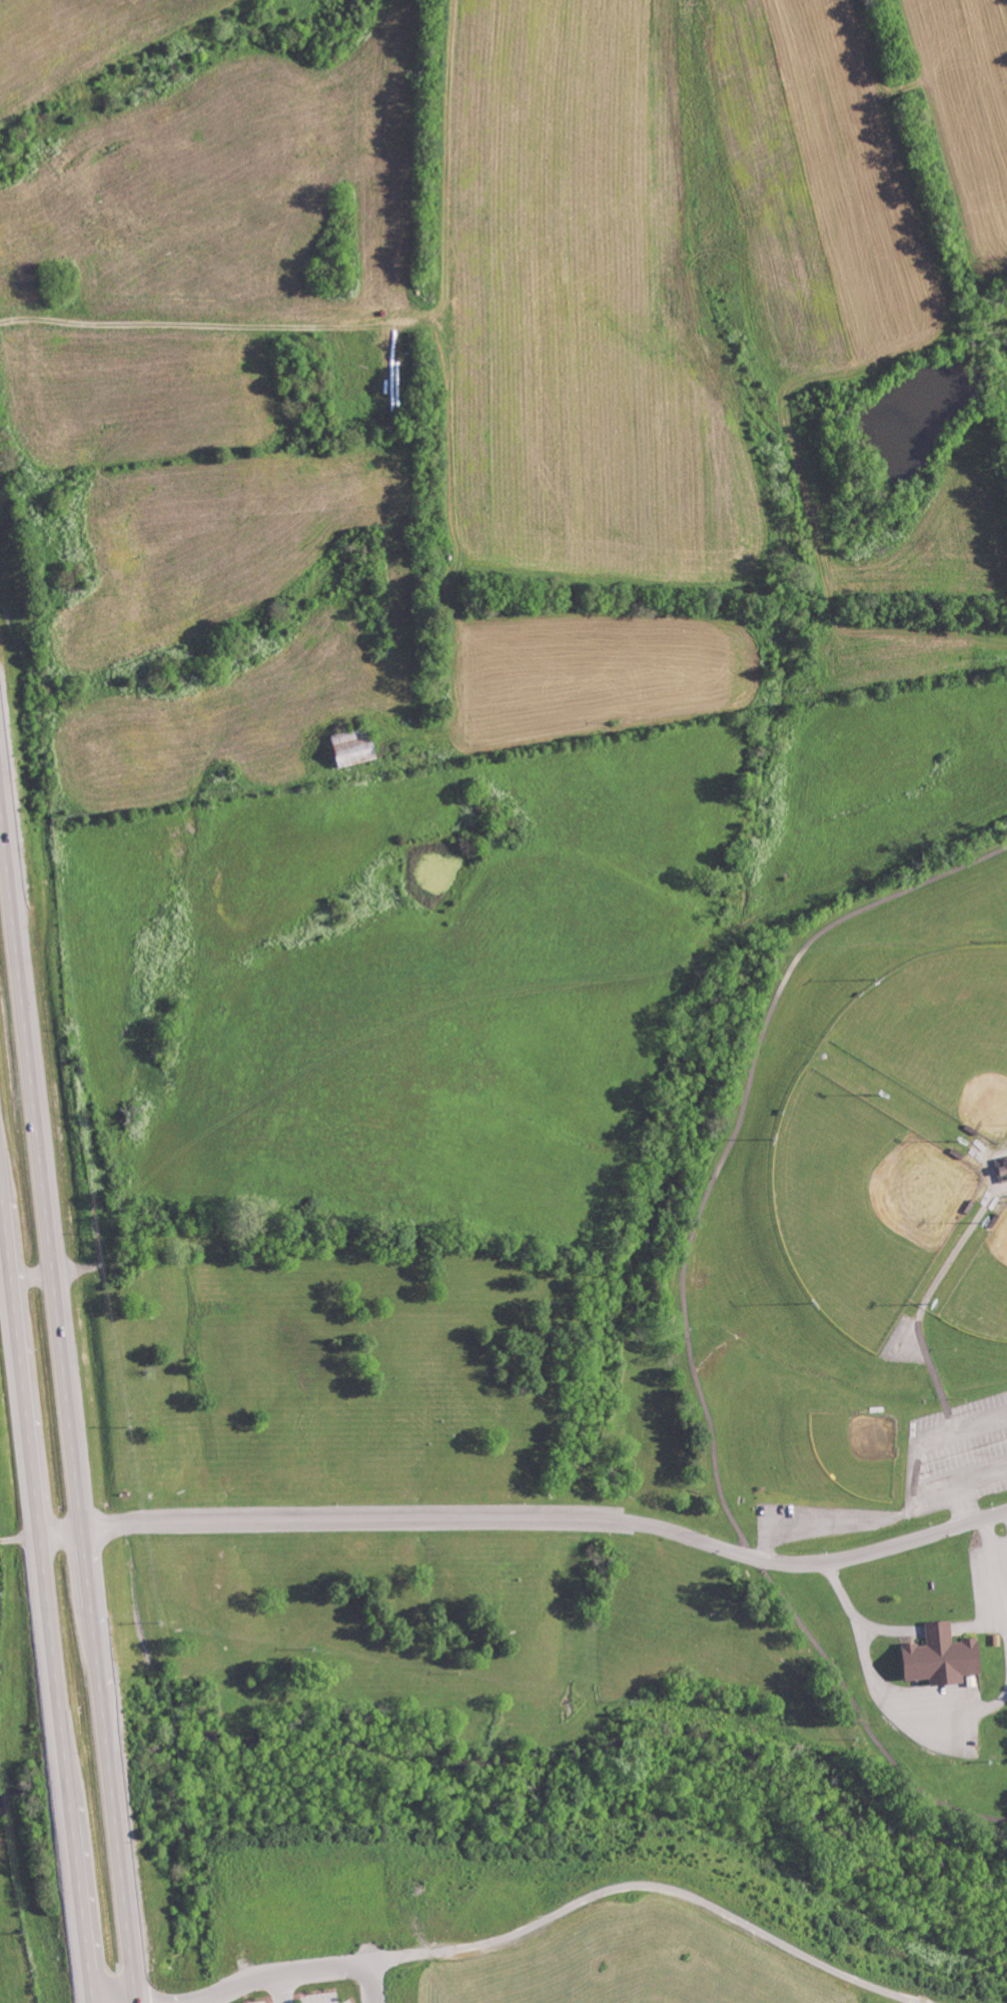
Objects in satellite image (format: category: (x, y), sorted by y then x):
building: (356, 746)
building: (1002, 1170)
park: (982, 1286)
road: (686, 1322)
park: (629, 1409)
road: (69, 1413)
road: (919, 1447)
road: (963, 1482)
road: (530, 1516)
road: (20, 1538)
road: (994, 1569)
parking lot: (990, 1581)
road: (47, 1593)
road: (858, 1618)
road: (977, 1624)
road: (935, 1629)
building: (935, 1631)
building: (936, 1661)
road: (279, 1972)
road: (372, 1981)
road: (283, 1987)

